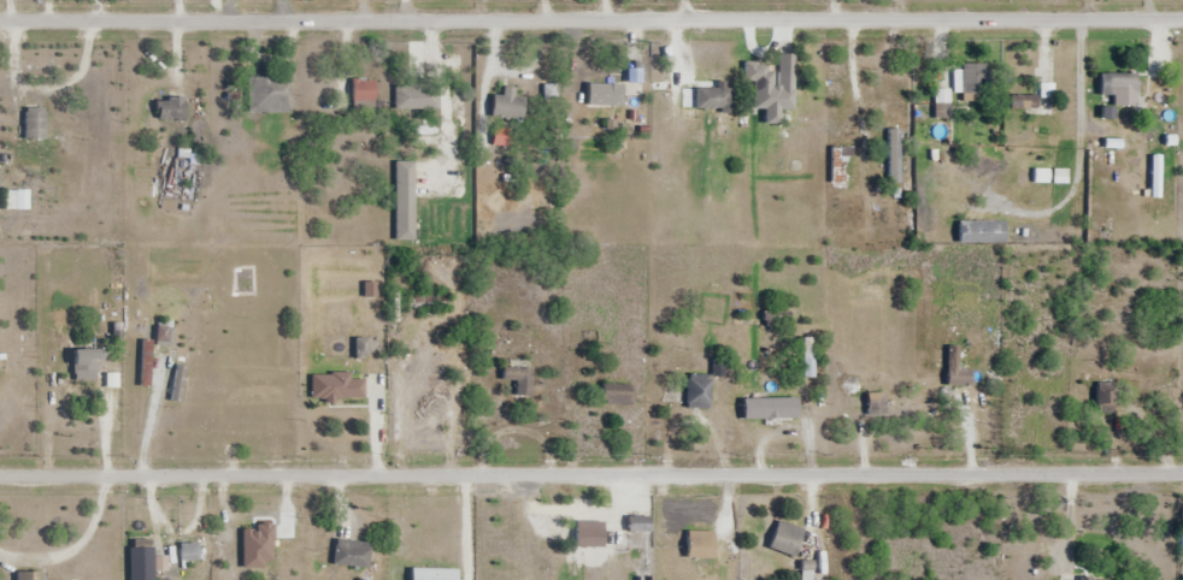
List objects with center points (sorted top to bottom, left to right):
road: (591, 18)
building: (785, 75)
building: (975, 78)
building: (608, 83)
building: (763, 84)
building: (1119, 84)
building: (364, 90)
building: (269, 95)
building: (713, 97)
building: (1032, 102)
building: (171, 108)
building: (35, 124)
building: (894, 156)
building: (840, 168)
building: (776, 318)
building: (808, 357)
building: (146, 363)
building: (87, 366)
building: (958, 369)
building: (23, 379)
building: (519, 380)
building: (336, 387)
building: (698, 391)
building: (617, 398)
building: (1106, 398)
building: (867, 404)
road: (590, 472)
building: (638, 525)
building: (589, 534)
building: (787, 539)
building: (700, 545)
building: (189, 552)
building: (352, 554)
building: (141, 563)
building: (30, 575)

